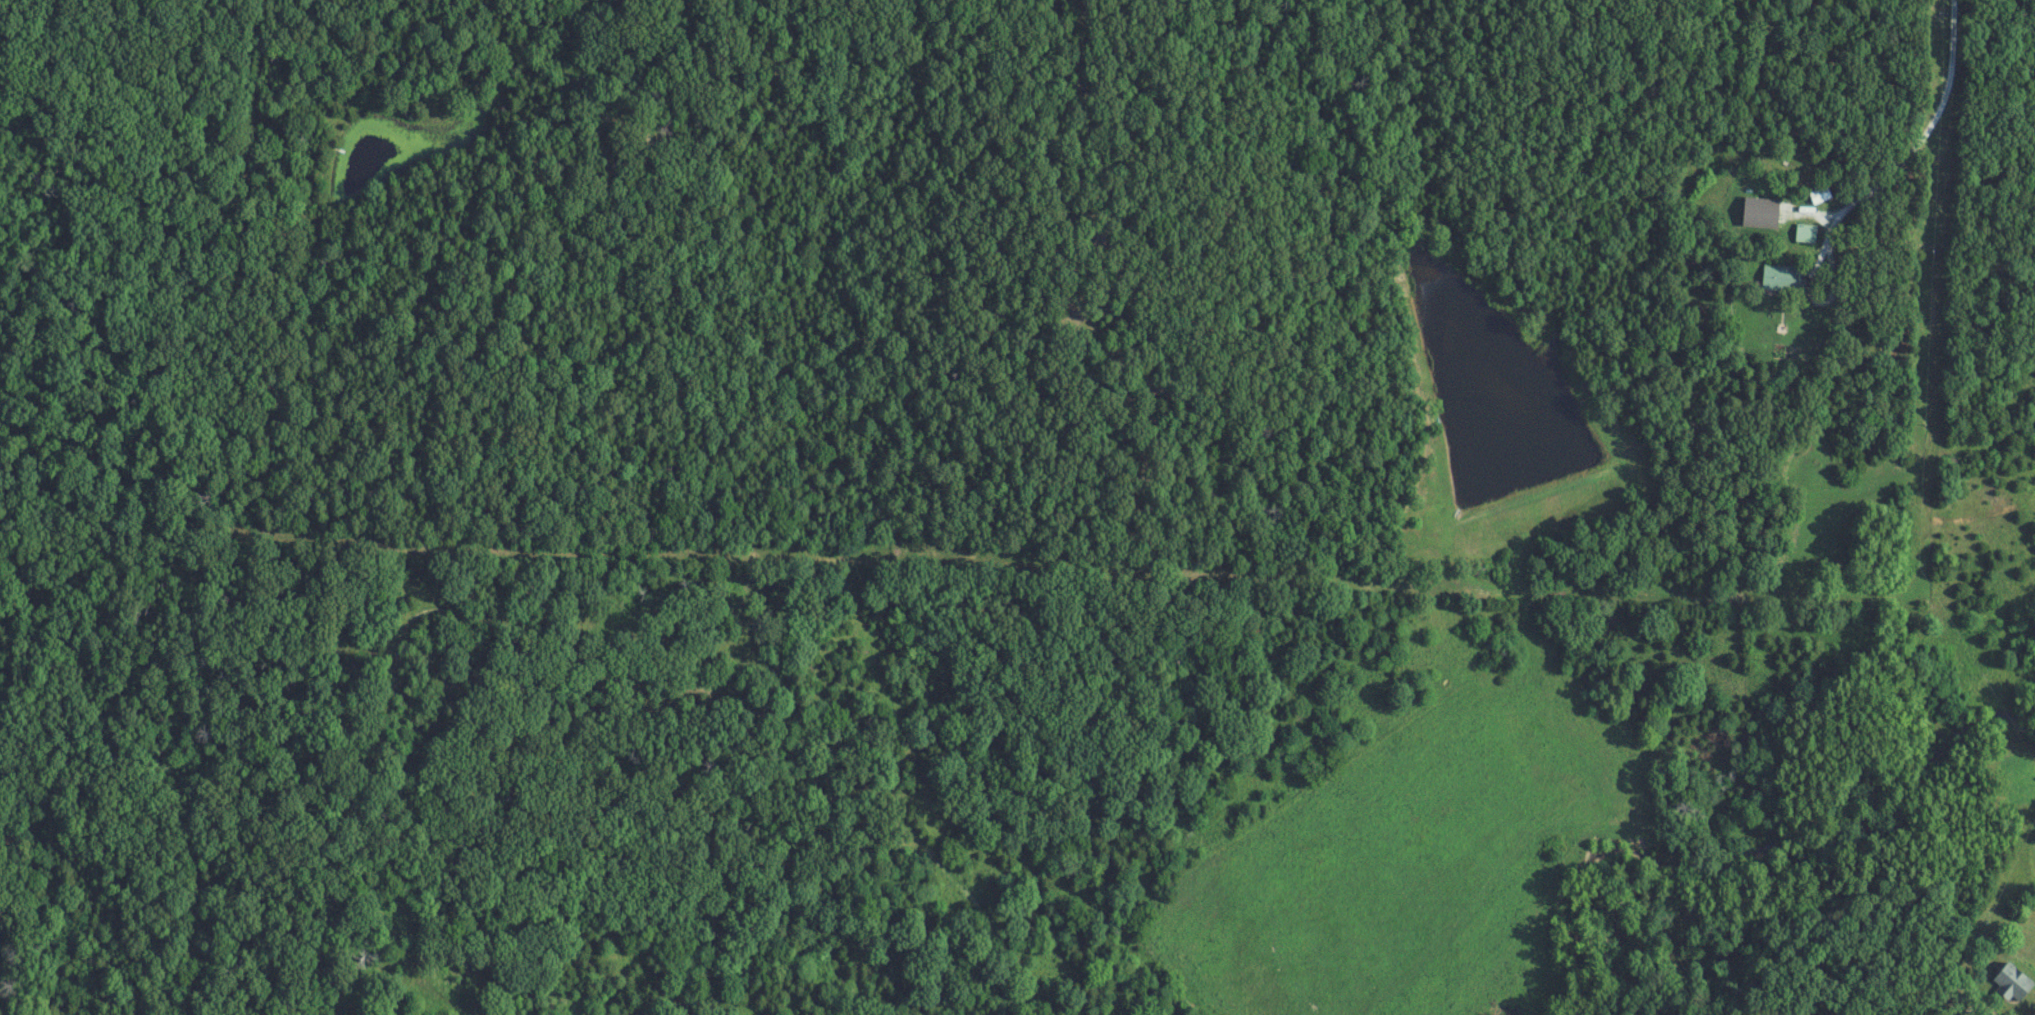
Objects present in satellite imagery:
road: (1921, 136)
building: (1820, 195)
building: (1805, 233)
building: (1783, 279)
road: (1820, 304)
building: (2011, 981)
road: (1978, 1006)

